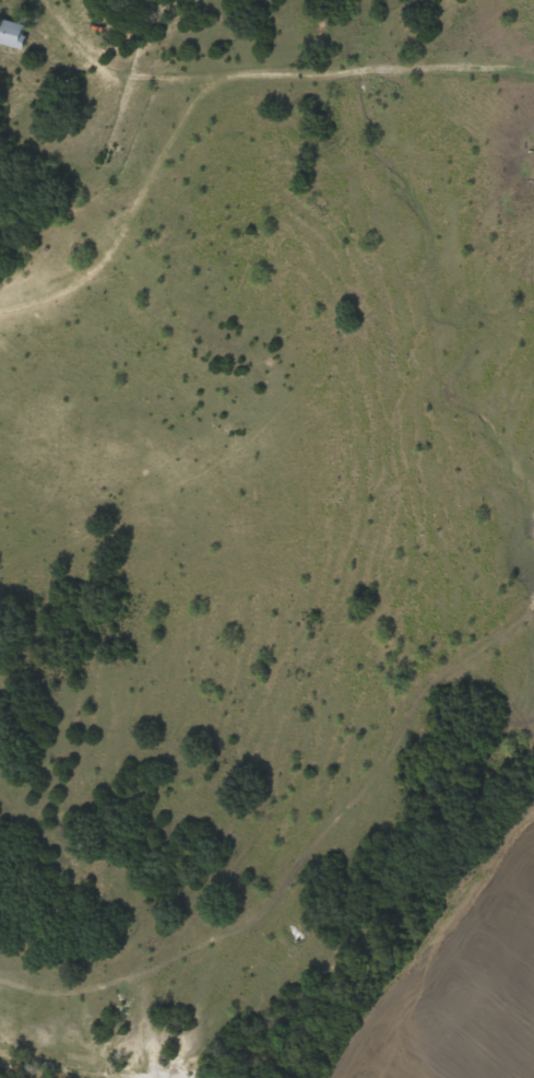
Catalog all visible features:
building: (13, 33)
road: (273, 92)

